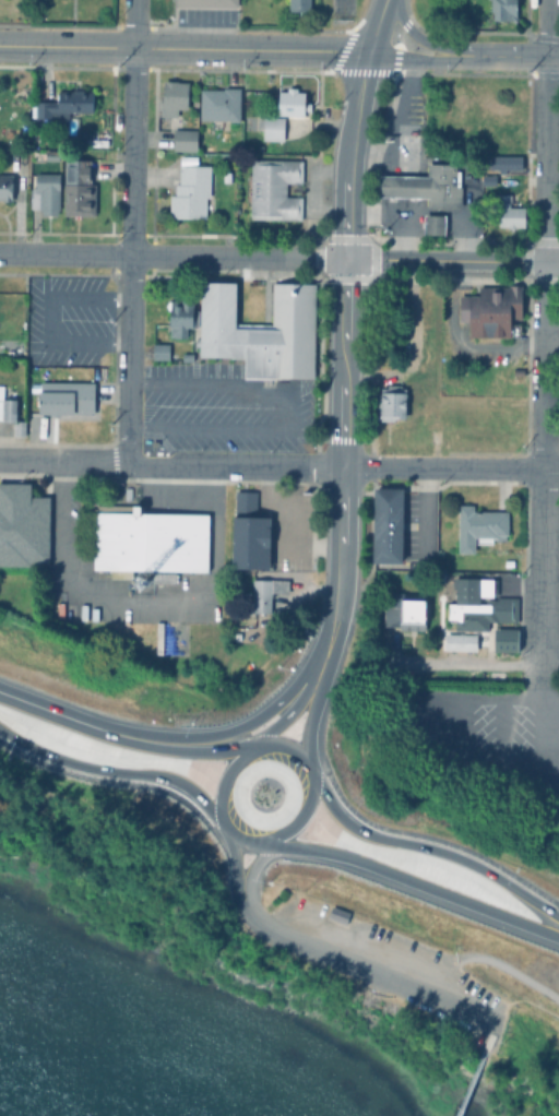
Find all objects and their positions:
building: (207, 2)
building: (299, 4)
road: (341, 8)
building: (504, 9)
road: (132, 24)
road: (374, 26)
road: (547, 27)
road: (425, 36)
road: (66, 48)
road: (250, 51)
road: (509, 54)
road: (552, 55)
road: (419, 61)
building: (173, 96)
building: (287, 100)
building: (67, 103)
building: (219, 104)
road: (546, 104)
road: (400, 116)
building: (274, 127)
building: (185, 139)
road: (374, 151)
road: (131, 153)
building: (51, 154)
road: (347, 155)
building: (506, 162)
road: (401, 185)
building: (5, 186)
building: (424, 186)
building: (78, 187)
building: (274, 188)
building: (191, 191)
building: (46, 192)
building: (510, 211)
road: (429, 213)
building: (431, 224)
road: (400, 228)
road: (66, 256)
road: (238, 258)
traffic signals: (345, 260)
road: (452, 262)
building: (430, 304)
building: (492, 310)
road: (49, 318)
park: (390, 322)
building: (259, 330)
road: (551, 330)
road: (459, 343)
building: (160, 351)
building: (188, 356)
road: (128, 361)
road: (343, 364)
road: (551, 399)
road: (289, 405)
road: (543, 409)
road: (62, 465)
road: (550, 465)
road: (333, 467)
road: (550, 507)
building: (150, 542)
road: (340, 573)
road: (548, 655)
road: (468, 663)
road: (473, 693)
road: (549, 694)
road: (294, 716)
road: (248, 722)
road: (313, 723)
road: (127, 734)
parking lot: (495, 738)
road: (539, 741)
road: (261, 753)
road: (115, 771)
road: (432, 847)
road: (243, 850)
road: (260, 856)
road: (421, 882)
building: (333, 911)
parking lot: (418, 959)
road: (344, 960)
road: (488, 962)
road: (478, 1048)
road: (463, 1100)
pier: (463, 1101)

